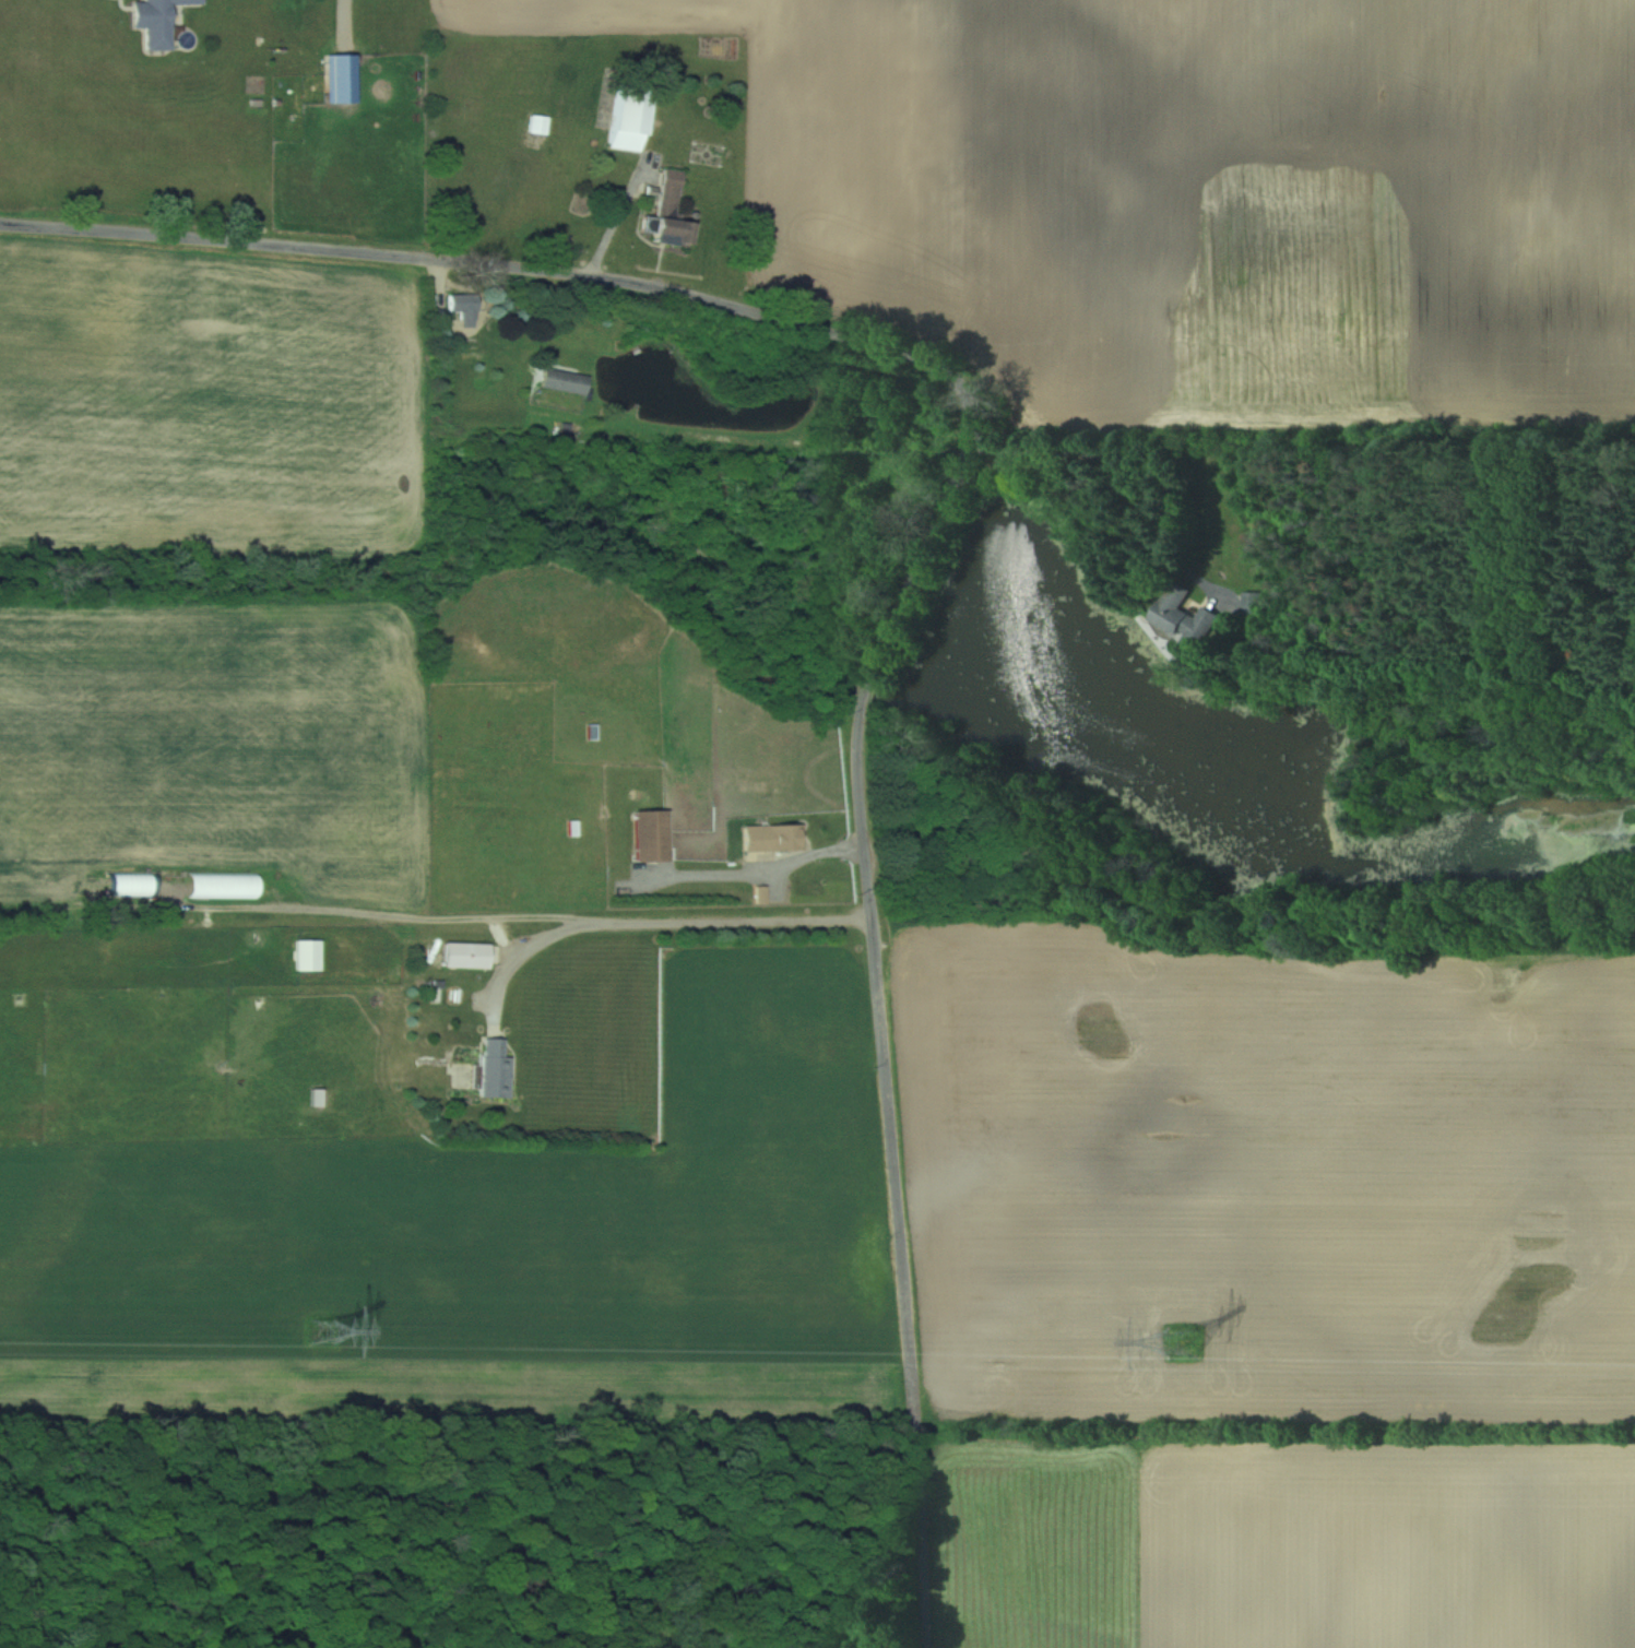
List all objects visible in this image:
building: (153, 21)
building: (340, 78)
building: (627, 117)
building: (537, 125)
building: (668, 211)
road: (617, 217)
building: (461, 307)
building: (564, 381)
road: (1123, 474)
road: (936, 529)
building: (1251, 604)
building: (1181, 617)
building: (650, 835)
building: (781, 837)
building: (903, 864)
road: (771, 872)
road: (656, 924)
building: (306, 955)
building: (464, 955)
building: (494, 1068)
power tower: (322, 1333)
power tower: (1182, 1344)

